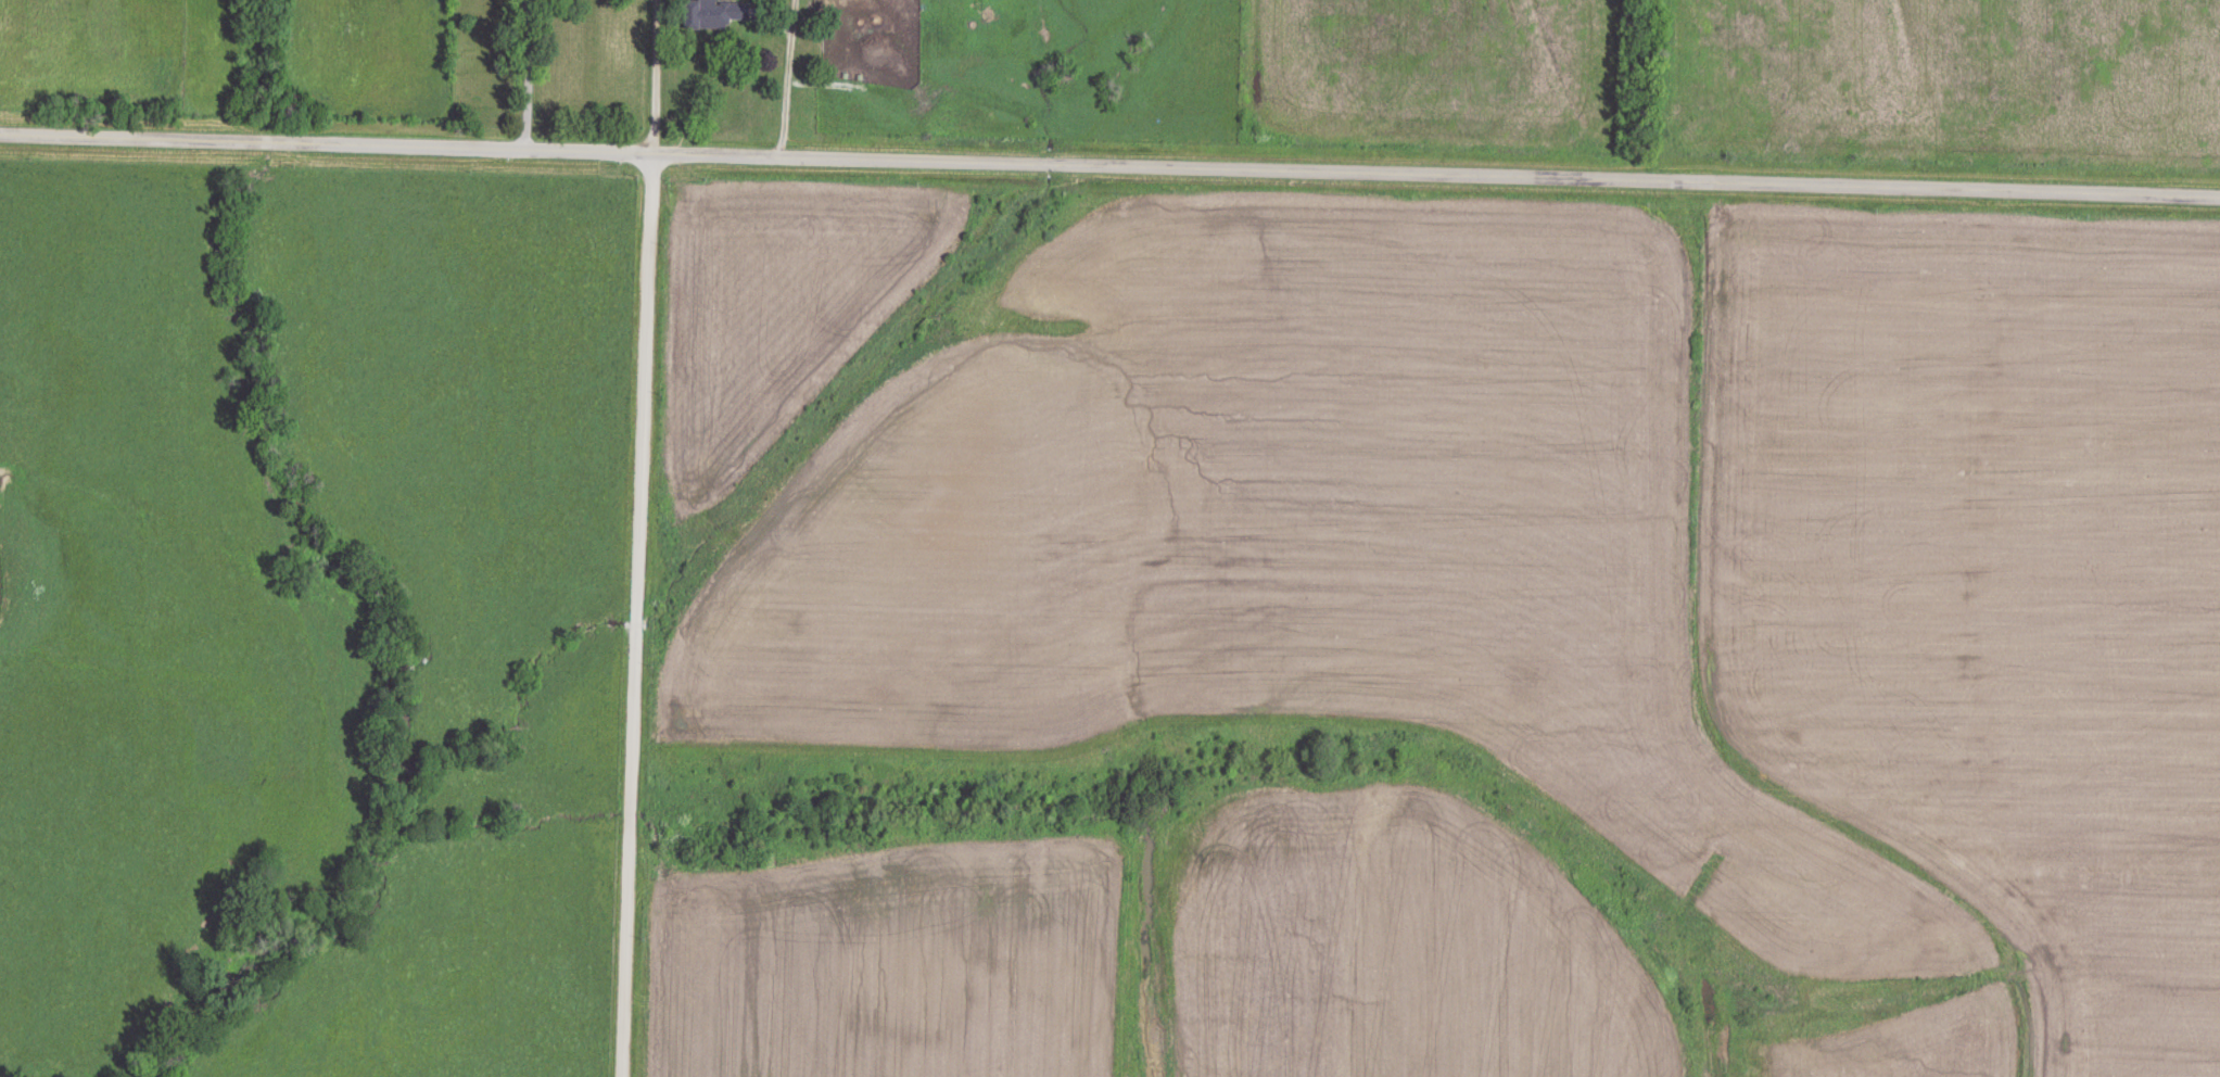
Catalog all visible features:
building: (713, 13)
road: (529, 78)
road: (652, 80)
road: (1109, 176)
crop: (777, 299)
crop: (1593, 558)
road: (626, 619)
crop: (1489, 954)
crop: (884, 975)

